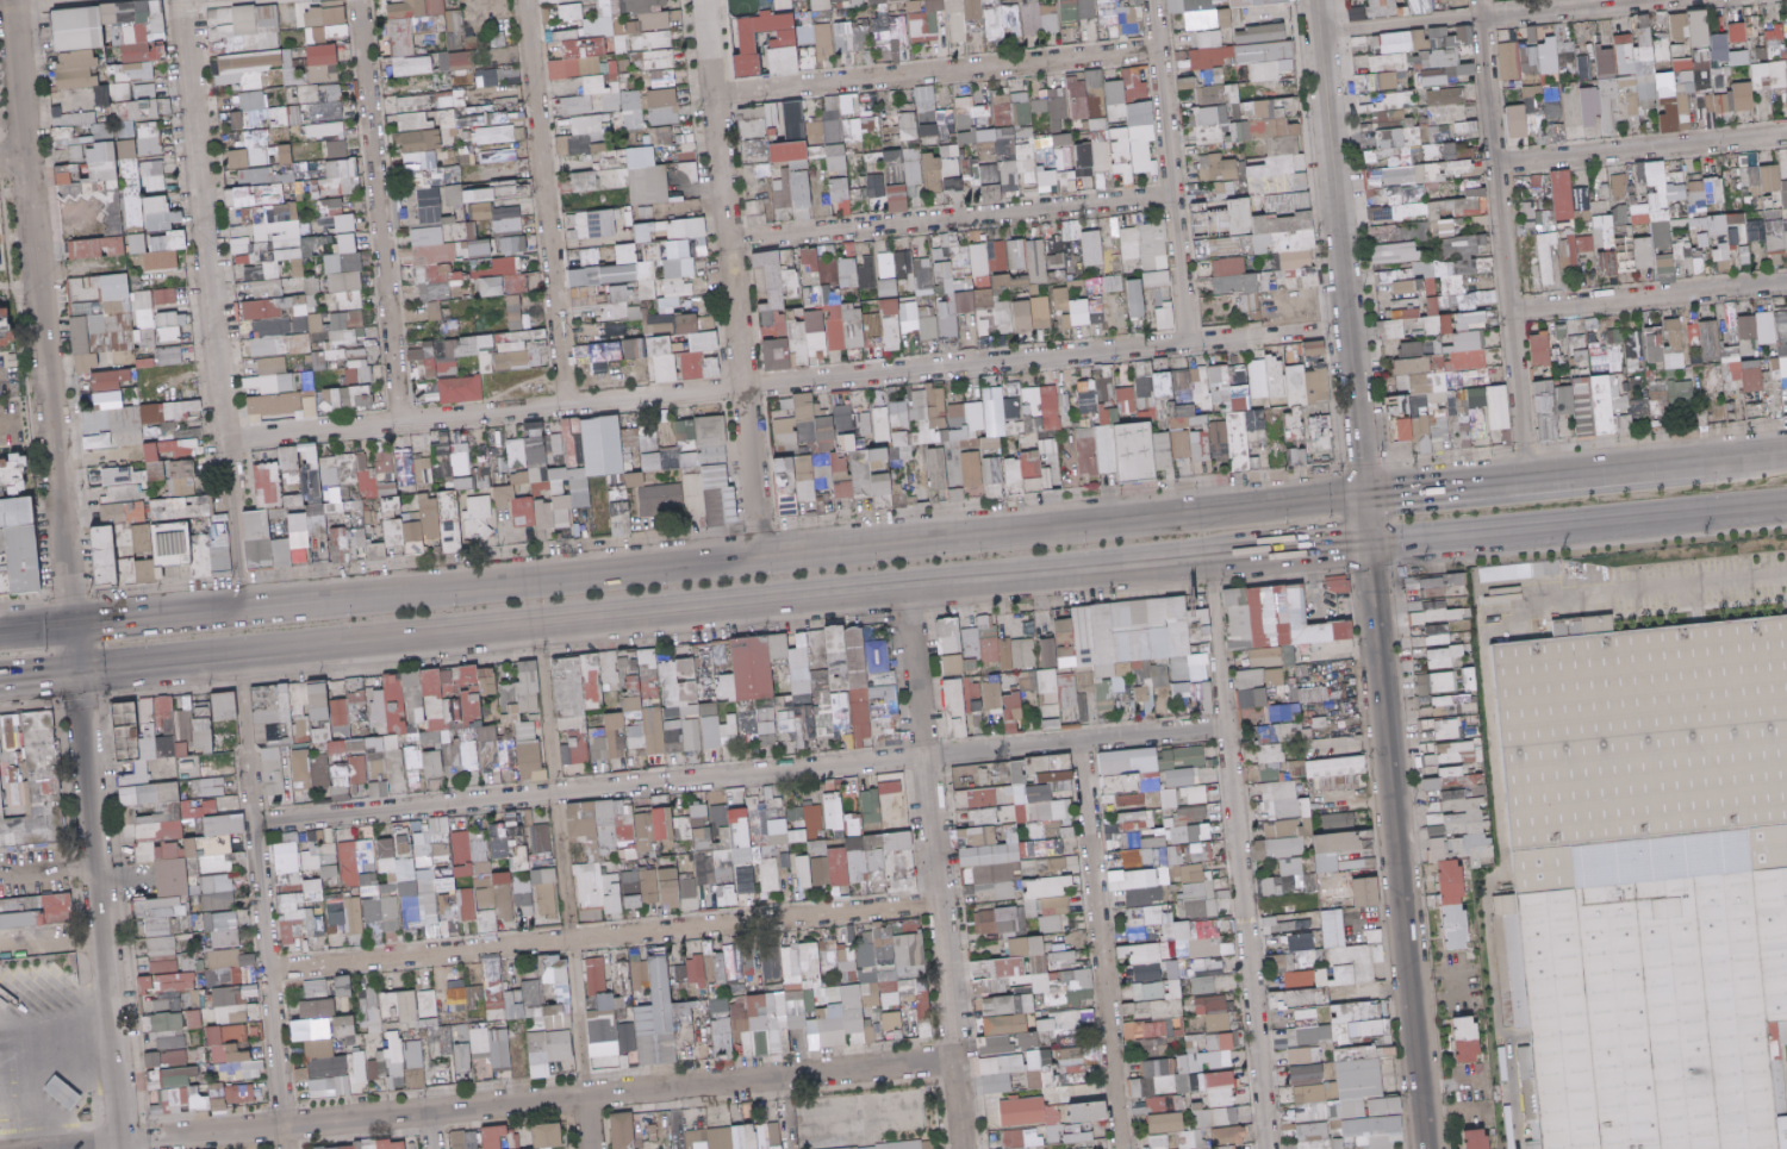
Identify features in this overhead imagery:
building: (883, 1)
building: (851, 2)
building: (817, 5)
building: (567, 12)
building: (239, 20)
building: (452, 20)
building: (113, 33)
building: (406, 35)
building: (77, 73)
road: (1170, 170)
road: (1501, 238)
road: (39, 336)
traffic signals: (62, 583)
gas station: (49, 1073)

